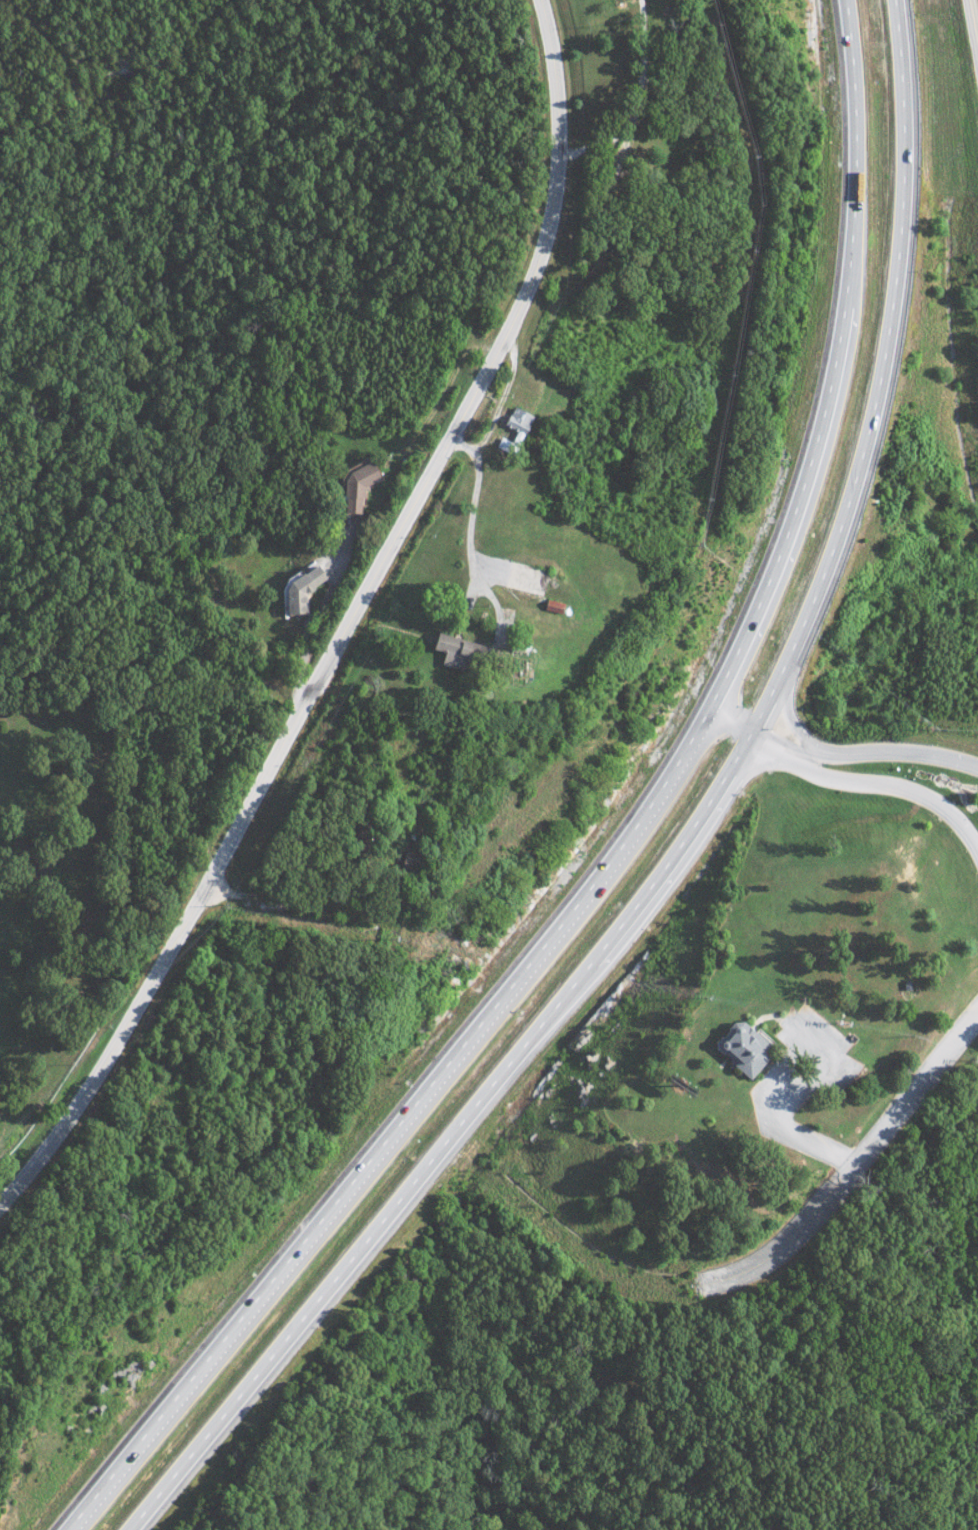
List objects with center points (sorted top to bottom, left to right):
road: (971, 63)
road: (827, 366)
road: (873, 375)
building: (513, 430)
building: (354, 488)
road: (472, 507)
building: (297, 590)
road: (351, 630)
building: (455, 652)
road: (690, 739)
road: (839, 753)
road: (842, 781)
building: (742, 1047)
road: (799, 1137)
road: (447, 1138)
road: (376, 1151)
road: (848, 1170)

